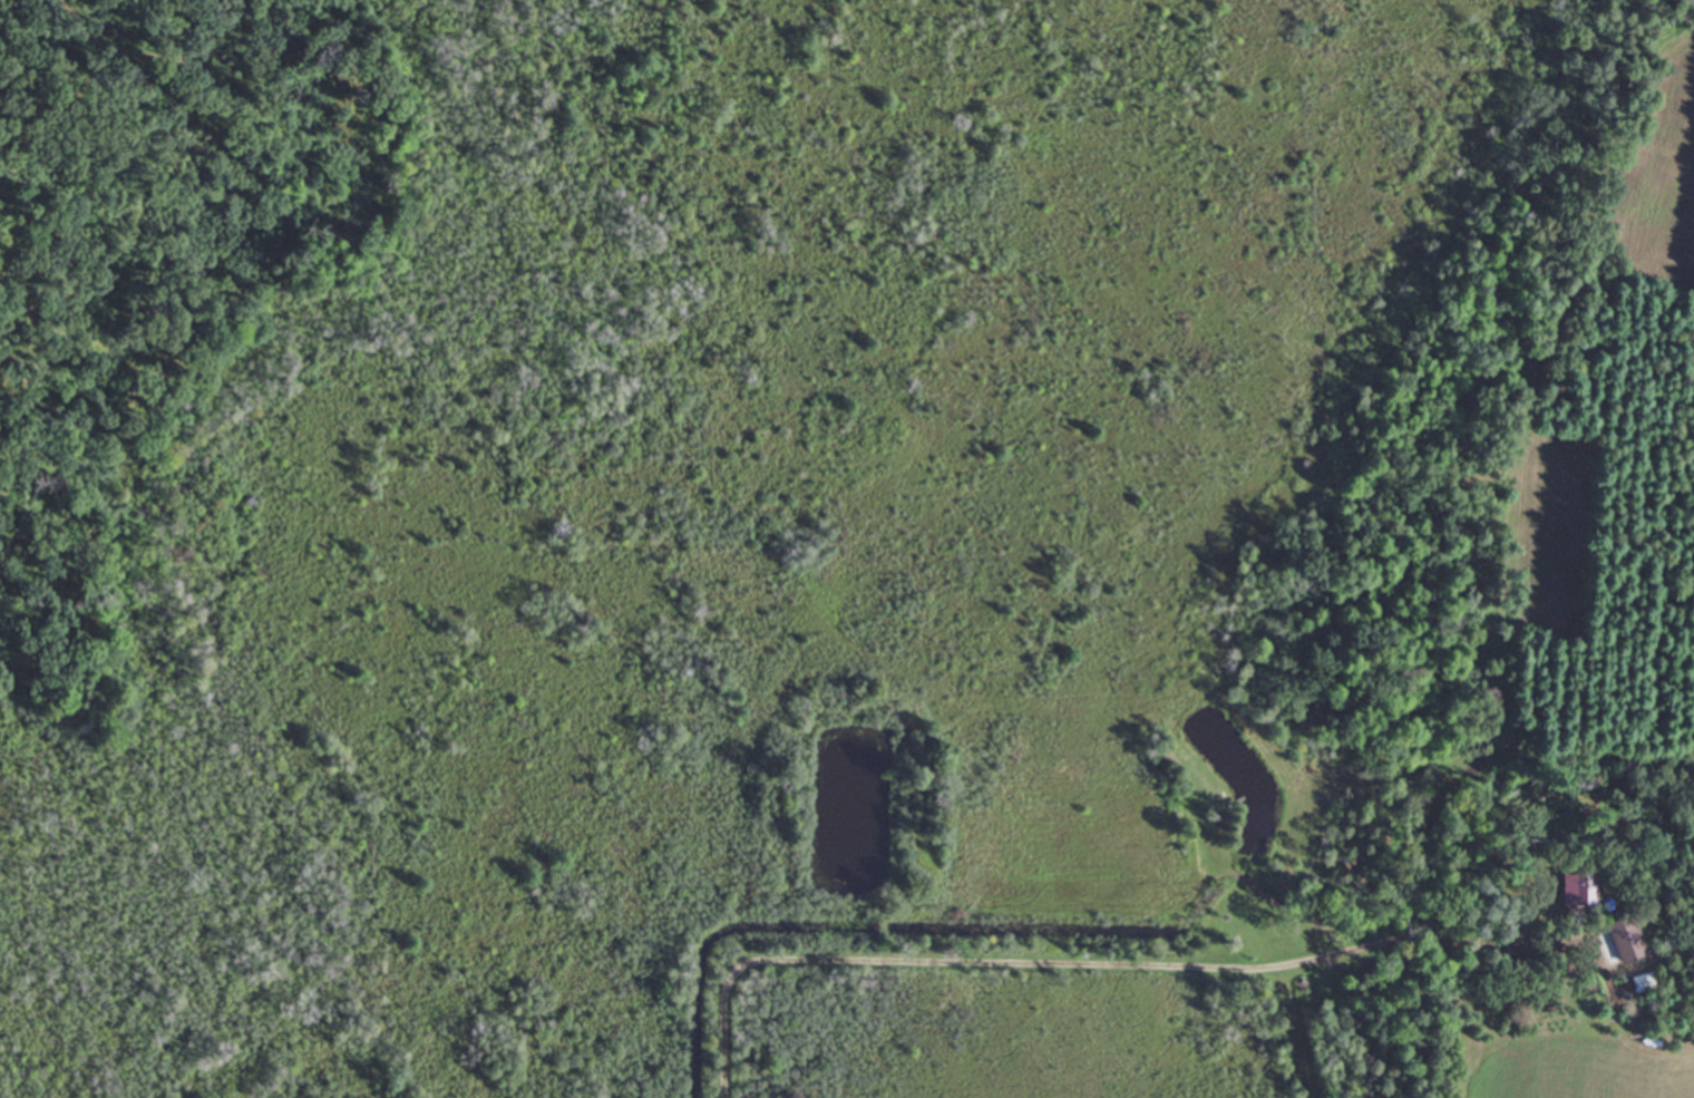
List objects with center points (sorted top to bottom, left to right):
park: (163, 22)
building: (1573, 887)
building: (1623, 939)

